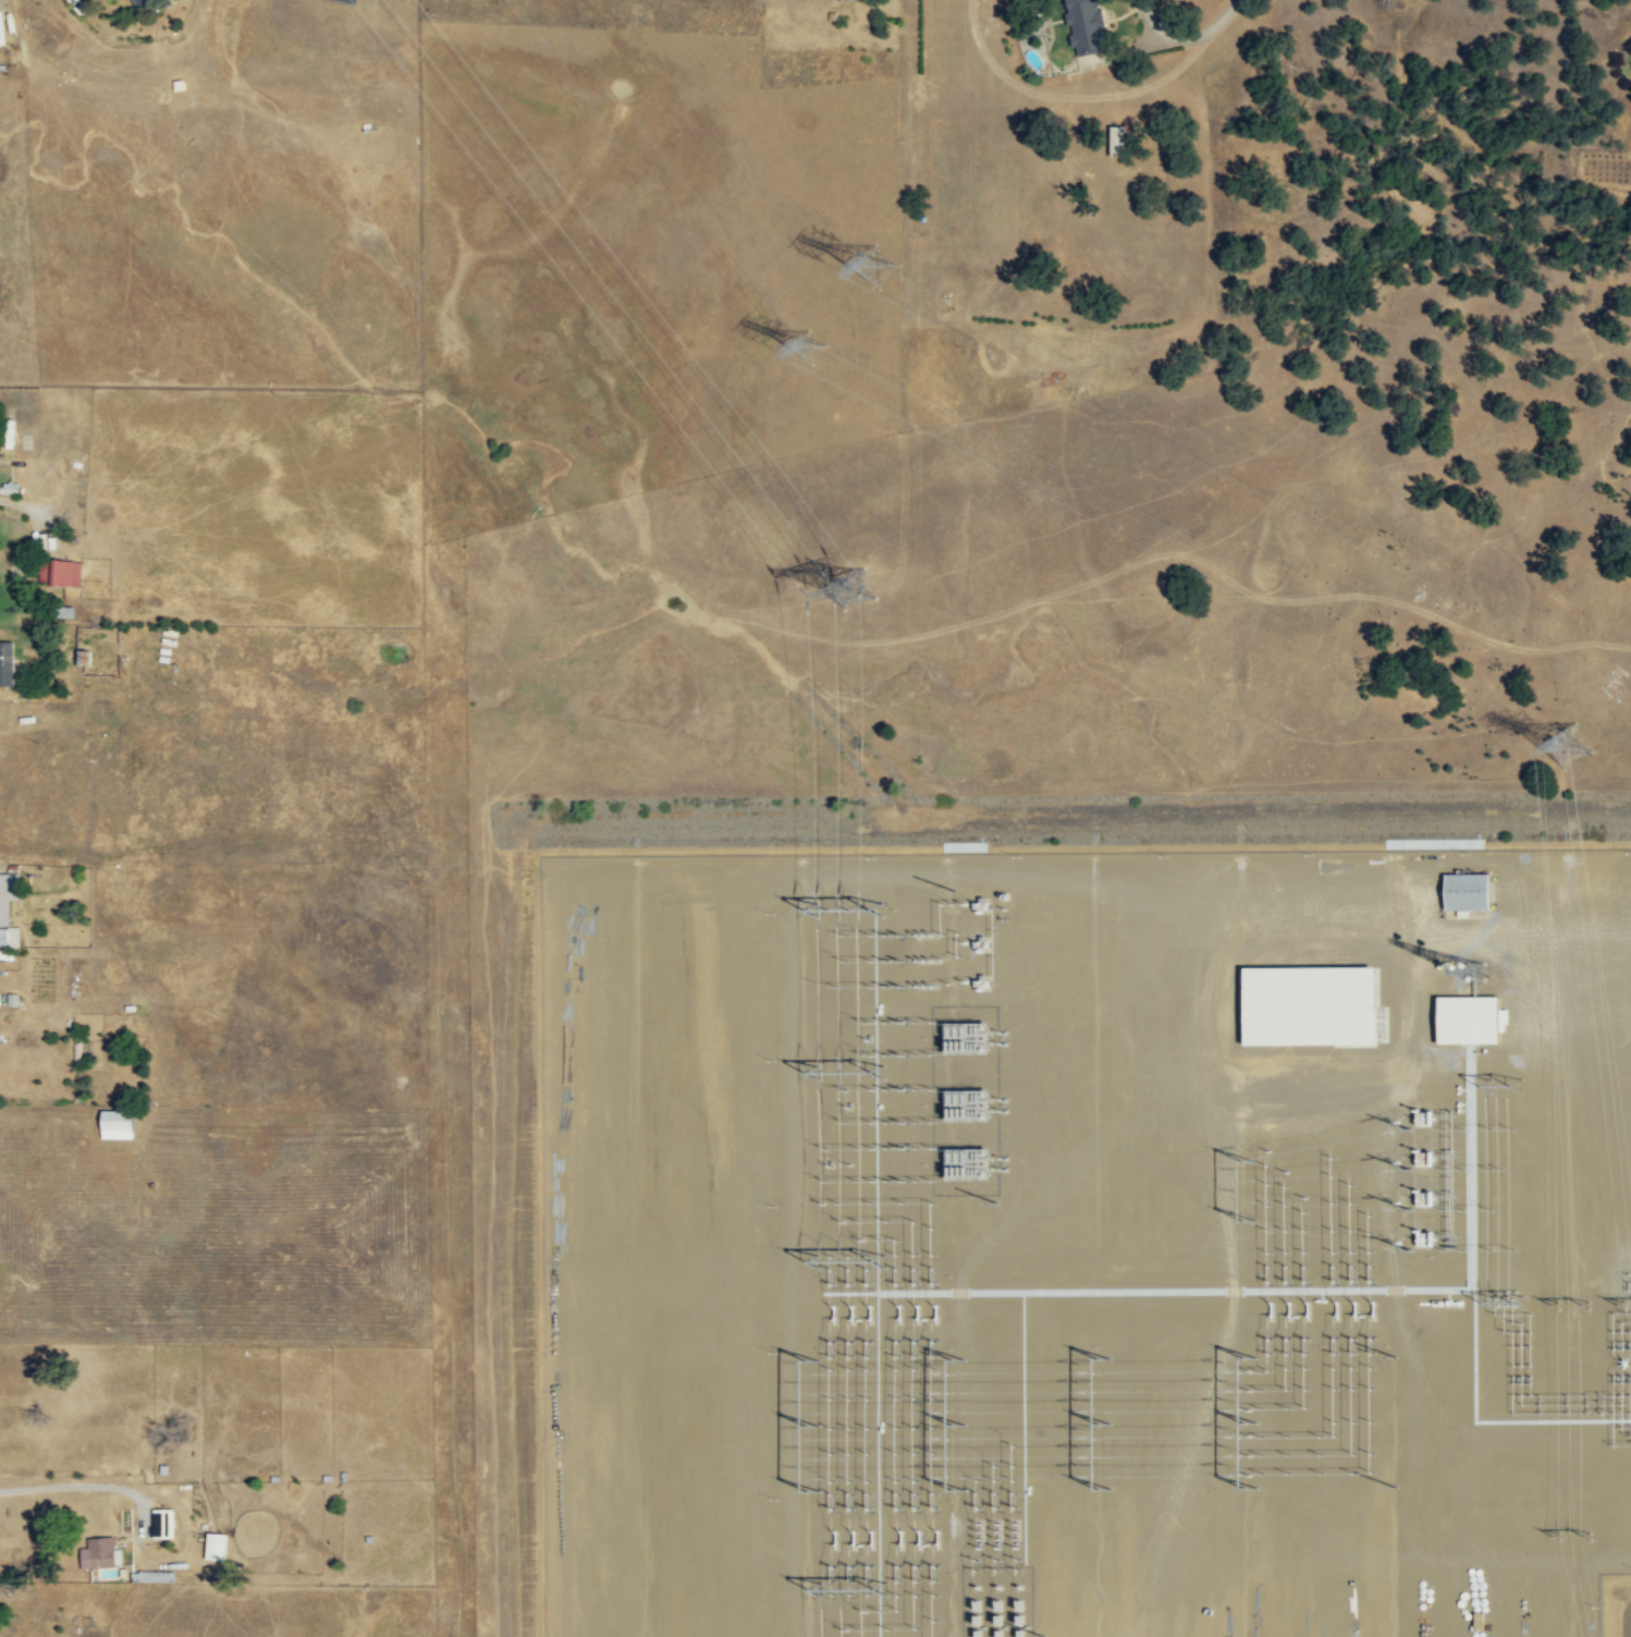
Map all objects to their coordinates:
building: (132, 2)
building: (1081, 24)
building: (0, 39)
building: (367, 129)
building: (1112, 139)
power tower: (886, 272)
power tower: (796, 361)
building: (60, 572)
power tower: (871, 585)
building: (4, 662)
power tower: (1563, 757)
building: (1460, 891)
building: (8, 936)
building: (1462, 1019)
building: (111, 1124)
power substation: (1083, 1242)
road: (90, 1485)
building: (159, 1524)
building: (210, 1546)
building: (95, 1553)
building: (150, 1576)

